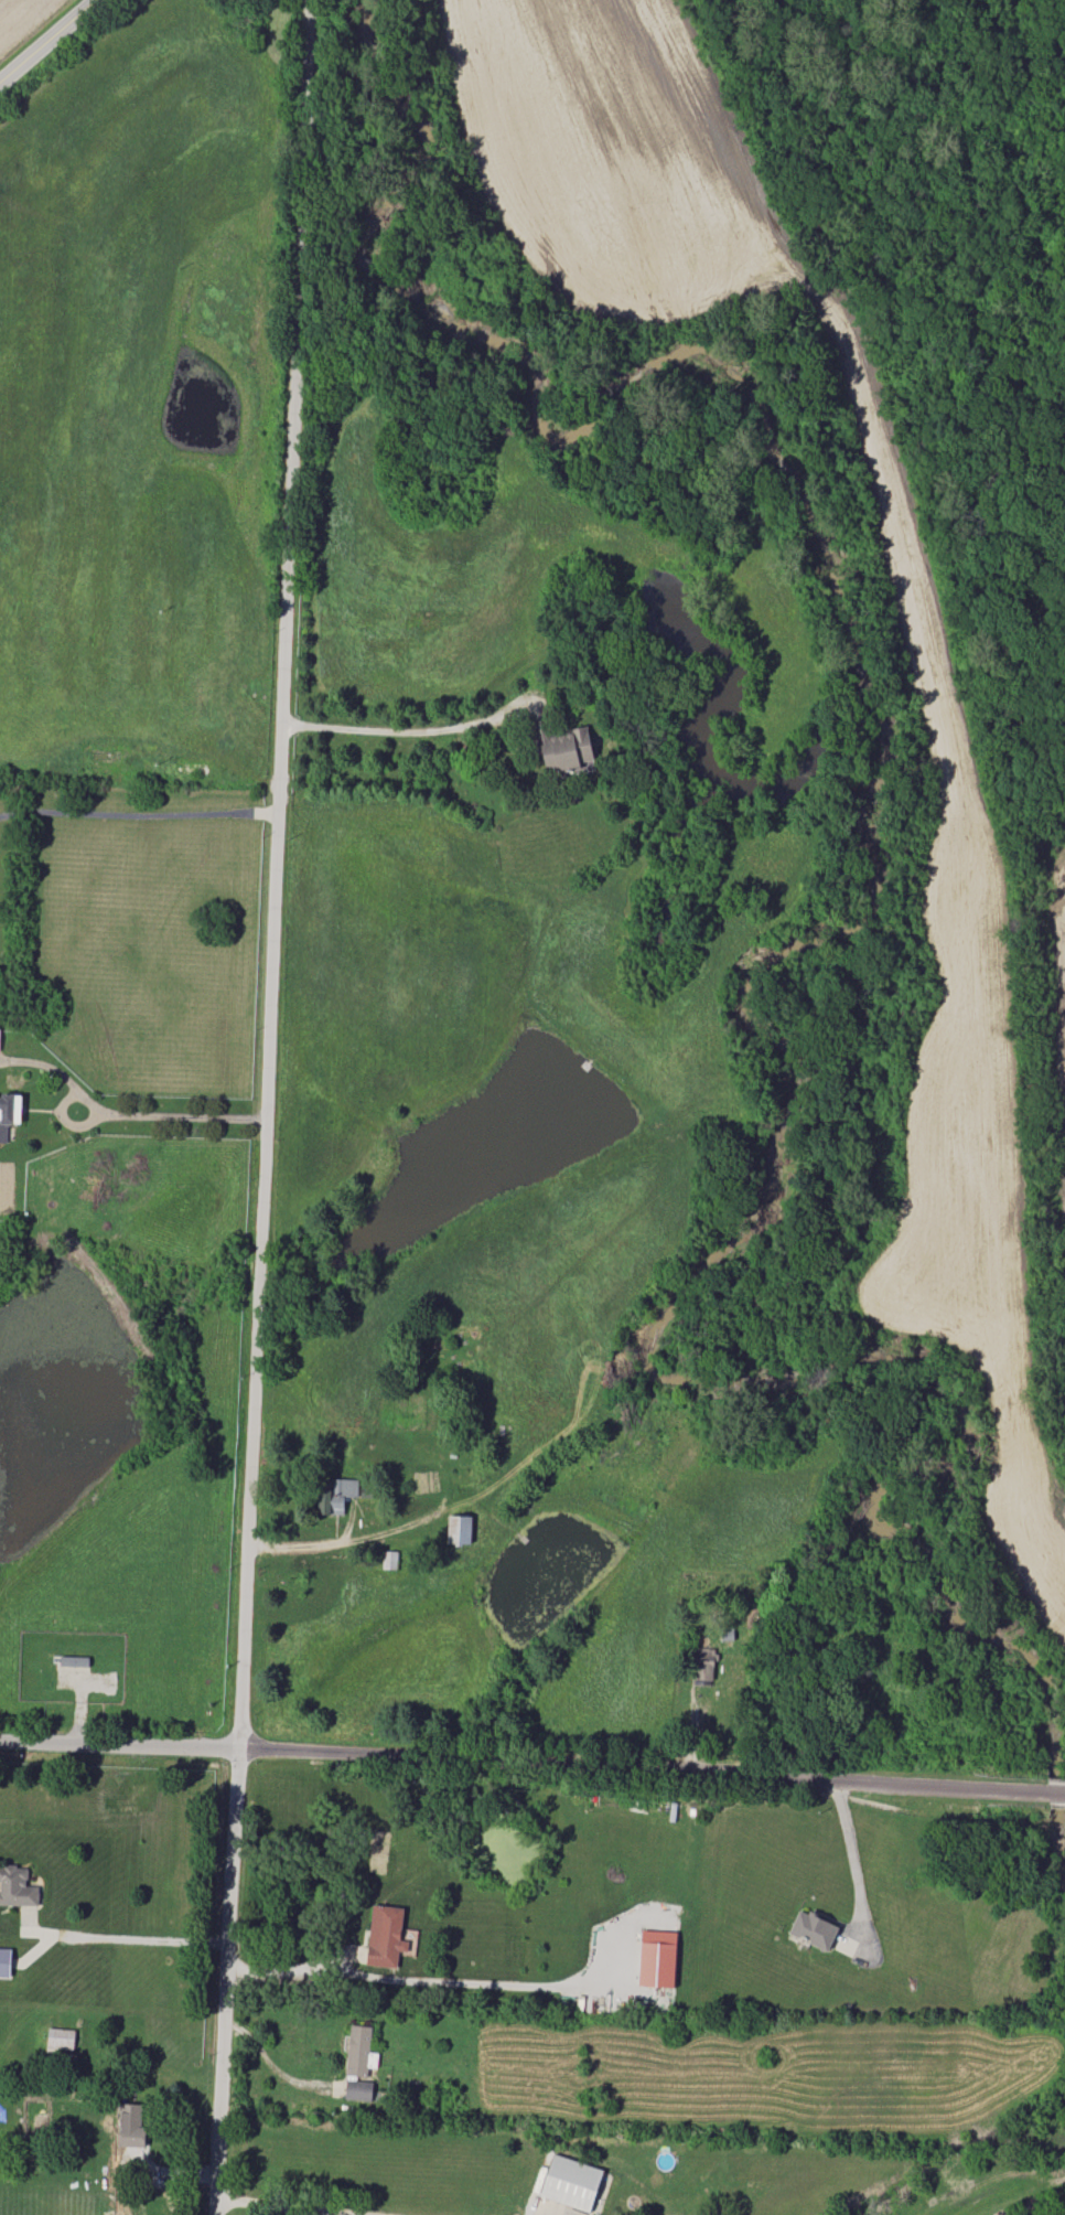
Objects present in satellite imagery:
crop: (15, 13)
road: (44, 38)
crop: (506, 567)
crop: (936, 699)
road: (411, 729)
building: (562, 746)
road: (138, 811)
crop: (1055, 953)
road: (263, 1106)
building: (9, 1113)
road: (179, 1116)
building: (336, 1496)
crop: (1026, 1509)
building: (459, 1529)
building: (389, 1560)
building: (703, 1663)
road: (532, 1758)
road: (847, 1845)
building: (17, 1886)
building: (813, 1929)
building: (388, 1937)
road: (138, 1939)
building: (657, 1958)
building: (4, 1962)
road: (410, 1979)
building: (61, 2039)
building: (359, 2051)
building: (358, 2090)
building: (131, 2126)
building: (571, 2182)
road: (279, 2207)

